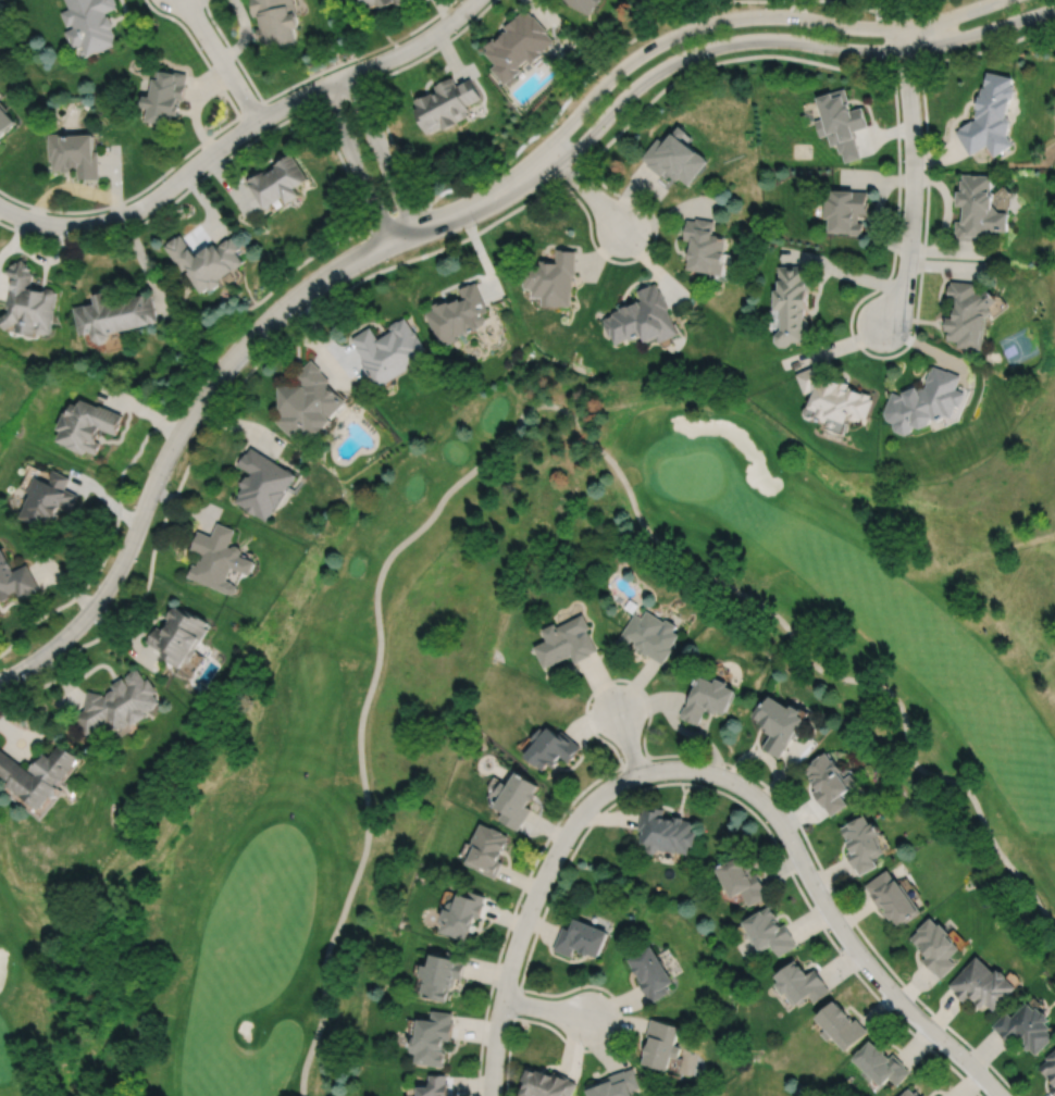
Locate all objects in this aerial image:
building: (361, 0)
park: (972, 0)
building: (380, 2)
road: (930, 3)
building: (583, 4)
street lamp: (761, 7)
road: (877, 10)
road: (750, 16)
building: (276, 20)
building: (89, 23)
road: (928, 33)
road: (789, 39)
building: (517, 42)
road: (402, 51)
street lamp: (712, 57)
road: (797, 58)
street lamp: (884, 59)
road: (220, 60)
road: (591, 73)
road: (306, 77)
building: (165, 94)
building: (445, 102)
road: (250, 108)
building: (990, 114)
building: (5, 117)
building: (840, 120)
building: (0, 139)
road: (249, 140)
road: (392, 145)
road: (190, 151)
road: (380, 151)
building: (74, 152)
street lamp: (582, 155)
building: (675, 155)
street lamp: (902, 159)
road: (356, 162)
road: (344, 167)
road: (913, 176)
building: (280, 179)
road: (170, 186)
road: (587, 189)
building: (979, 207)
building: (845, 209)
street lamp: (648, 215)
road: (394, 217)
street lamp: (476, 224)
park: (1050, 232)
building: (705, 245)
road: (642, 253)
building: (207, 259)
building: (553, 277)
building: (28, 301)
building: (792, 302)
building: (968, 312)
building: (114, 313)
building: (457, 313)
street lamp: (298, 315)
building: (643, 316)
street lamp: (911, 333)
park: (1018, 345)
building: (388, 350)
street lamp: (216, 354)
road: (874, 354)
road: (225, 365)
park: (14, 387)
road: (233, 388)
building: (832, 397)
building: (926, 400)
building: (309, 402)
road: (541, 406)
road: (158, 422)
building: (87, 425)
building: (264, 483)
street lamp: (169, 484)
building: (48, 499)
building: (220, 559)
building: (16, 580)
street lamp: (98, 582)
building: (631, 606)
building: (179, 636)
building: (650, 636)
building: (566, 643)
street lamp: (28, 678)
road: (607, 681)
building: (708, 700)
building: (120, 705)
building: (780, 725)
road: (628, 742)
building: (553, 748)
street lamp: (622, 758)
road: (709, 758)
park: (308, 764)
street lamp: (729, 767)
building: (39, 773)
building: (831, 782)
road: (707, 786)
building: (516, 796)
street lamp: (571, 809)
building: (667, 830)
street lamp: (802, 837)
building: (862, 840)
building: (487, 848)
road: (543, 875)
building: (744, 879)
building: (892, 895)
street lamp: (521, 901)
building: (462, 911)
building: (771, 930)
building: (581, 936)
road: (849, 942)
building: (935, 945)
street lamp: (874, 955)
building: (653, 971)
building: (442, 972)
building: (802, 982)
building: (982, 983)
road: (545, 1009)
street lamp: (518, 1014)
building: (842, 1023)
road: (618, 1024)
building: (1026, 1026)
building: (433, 1037)
building: (662, 1043)
street lamp: (584, 1047)
street lamp: (967, 1047)
building: (880, 1062)
building: (1050, 1064)
building: (547, 1083)
building: (616, 1084)
building: (435, 1086)
building: (1053, 1086)
building: (909, 1093)
building: (923, 1095)

